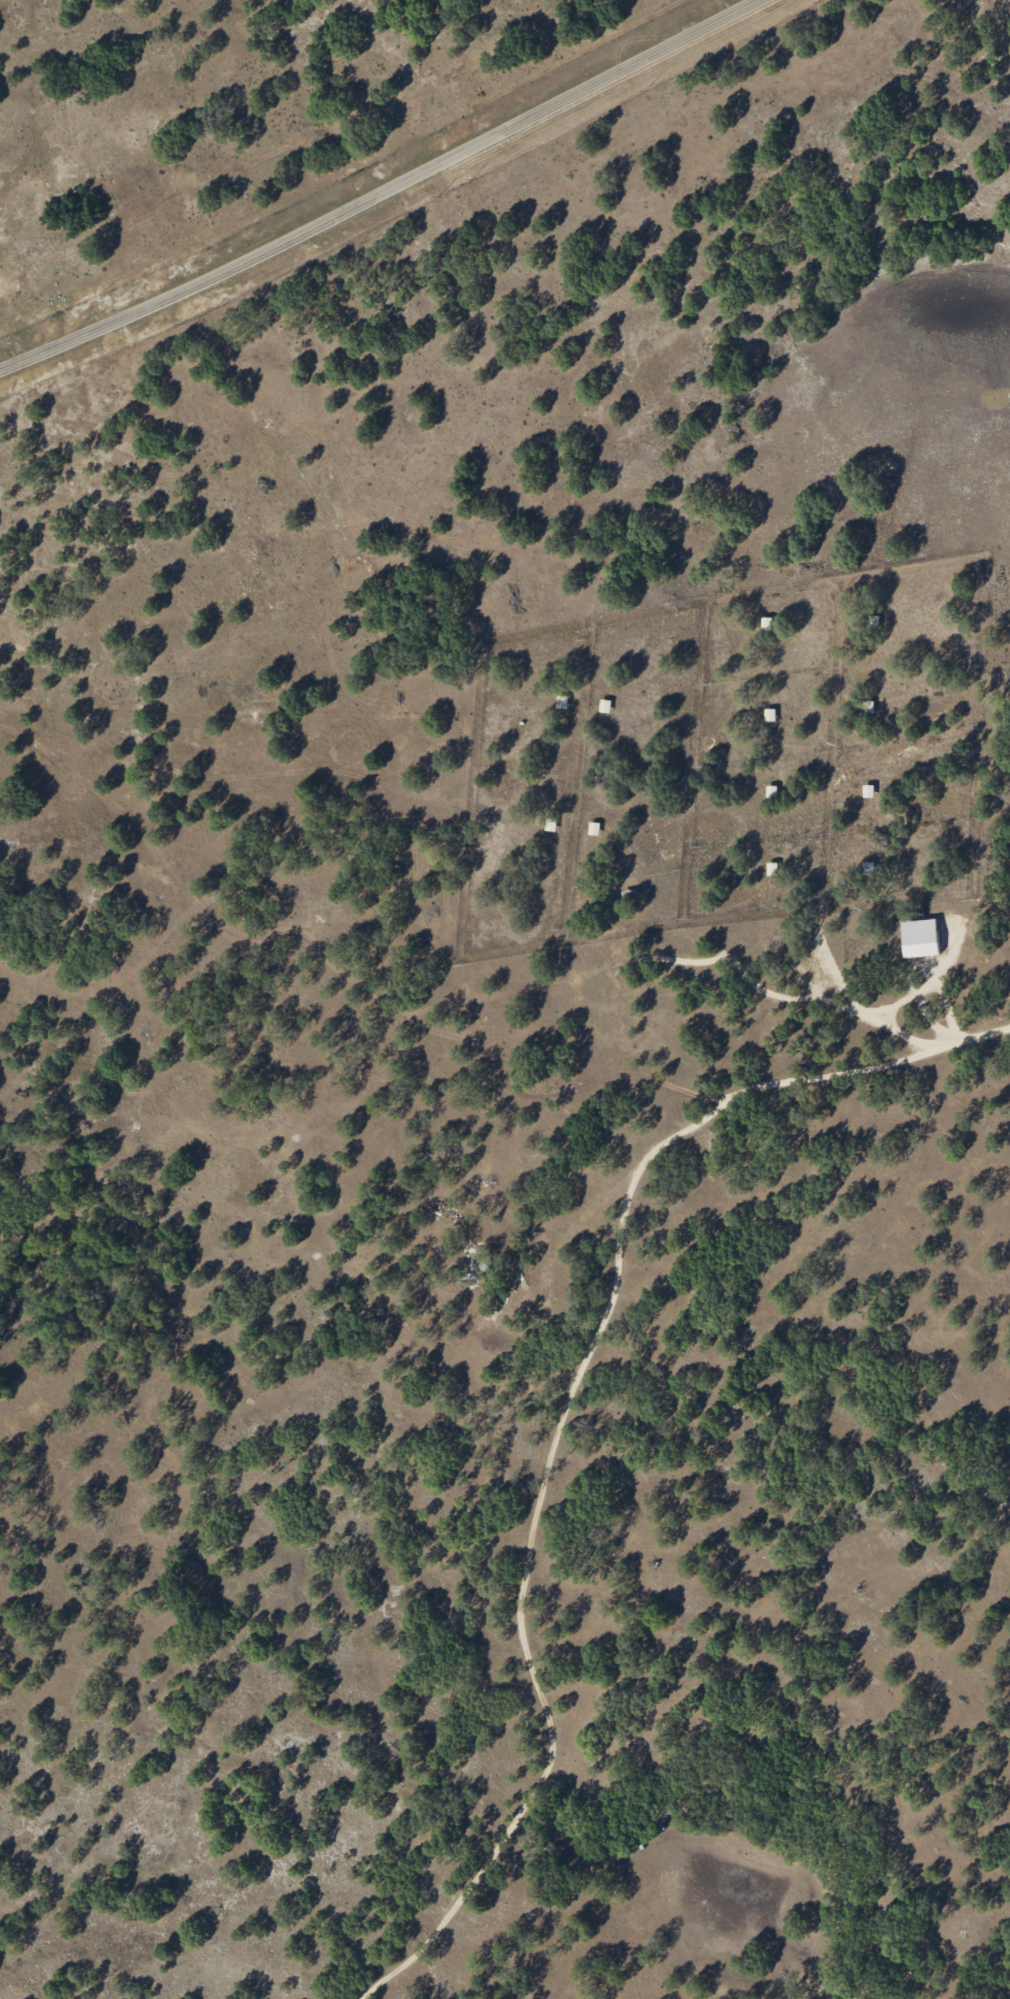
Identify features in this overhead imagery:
road: (390, 197)
road: (758, 1087)

